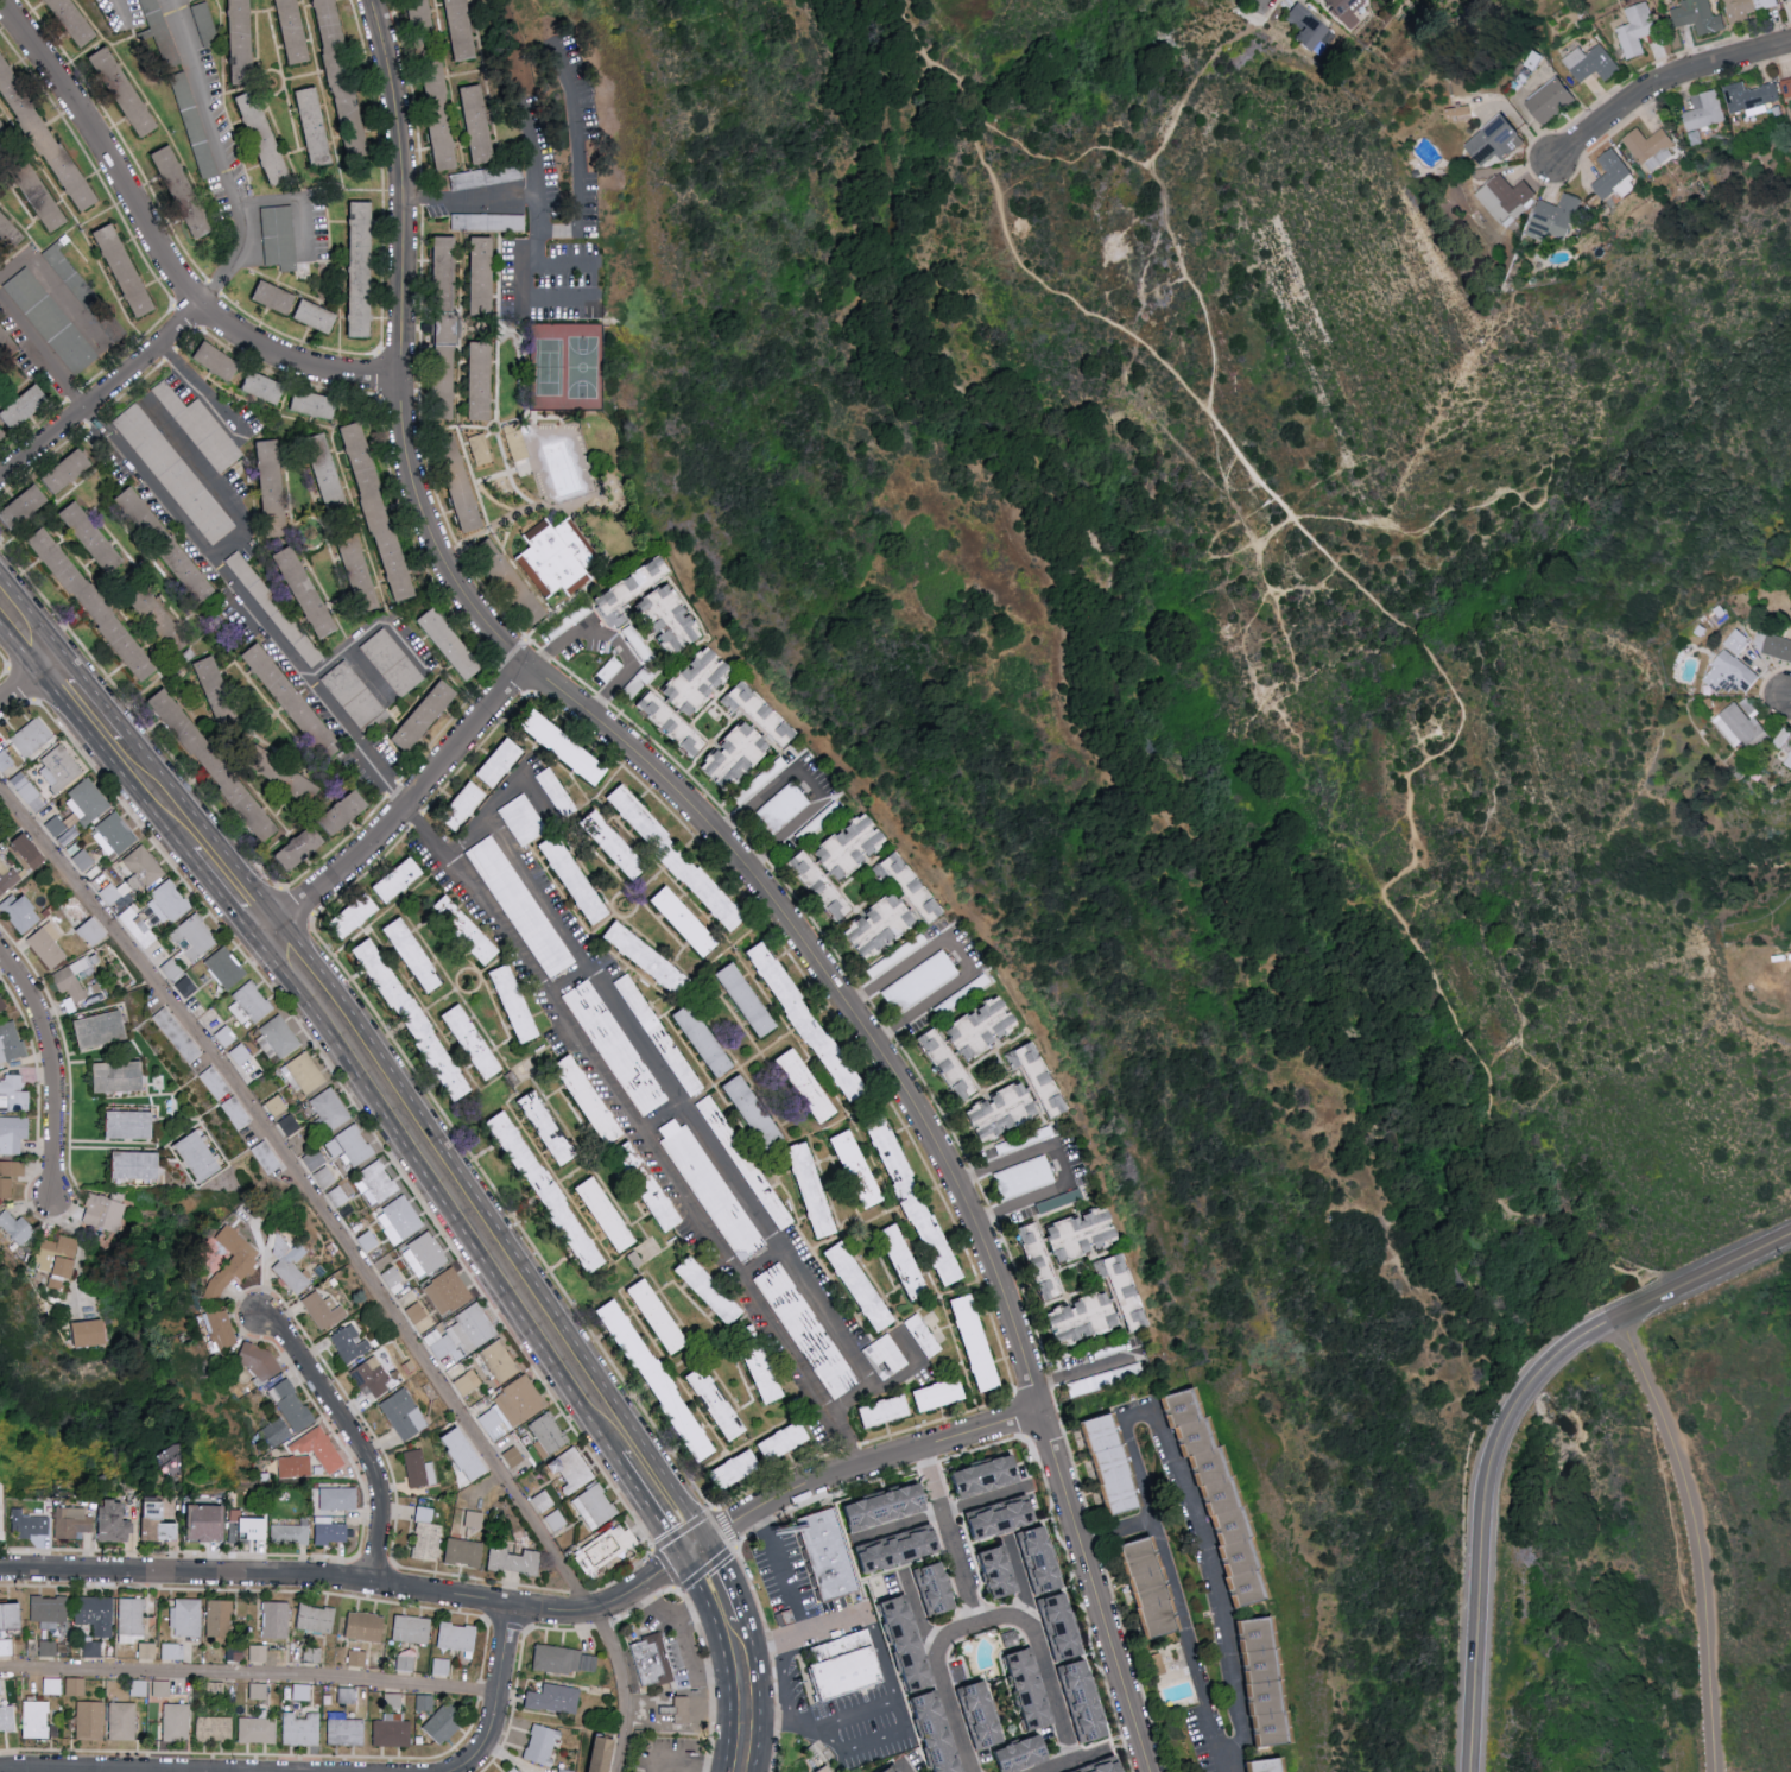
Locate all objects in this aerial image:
building: (1784, 0)
road: (1260, 5)
building: (1334, 5)
building: (1742, 7)
road: (122, 11)
building: (1695, 15)
building: (76, 20)
building: (205, 23)
building: (1303, 27)
building: (464, 29)
building: (1633, 29)
building: (297, 30)
building: (245, 40)
building: (341, 62)
building: (1589, 62)
road: (1194, 82)
road: (1663, 84)
building: (1785, 87)
building: (127, 90)
building: (1747, 96)
building: (1546, 99)
building: (1702, 109)
building: (481, 122)
building: (317, 125)
building: (4, 129)
building: (45, 132)
building: (267, 137)
building: (359, 140)
building: (1489, 140)
building: (447, 141)
building: (1647, 146)
road: (1114, 153)
road: (220, 156)
road: (577, 156)
building: (1612, 175)
building: (487, 176)
road: (534, 186)
building: (184, 191)
building: (1504, 196)
road: (293, 203)
building: (1551, 216)
building: (462, 221)
building: (515, 222)
building: (10, 226)
building: (279, 236)
road: (159, 248)
road: (537, 259)
building: (365, 268)
building: (126, 270)
building: (68, 273)
building: (485, 274)
building: (448, 289)
road: (52, 292)
road: (1052, 293)
building: (278, 296)
road: (543, 299)
building: (319, 315)
building: (50, 321)
road: (43, 352)
building: (221, 359)
park: (548, 367)
park: (581, 369)
building: (483, 380)
building: (267, 386)
road: (203, 392)
road: (103, 393)
building: (315, 403)
building: (25, 407)
building: (201, 429)
building: (2, 433)
building: (515, 441)
building: (480, 449)
building: (70, 469)
building: (172, 474)
building: (273, 474)
building: (331, 479)
road: (209, 483)
building: (466, 493)
building: (26, 506)
building: (139, 507)
building: (381, 511)
building: (278, 523)
road: (1273, 530)
building: (96, 538)
building: (557, 558)
building: (362, 571)
building: (191, 574)
building: (309, 590)
building: (632, 590)
building: (96, 603)
road: (249, 607)
building: (273, 608)
building: (675, 619)
road: (26, 628)
road: (369, 628)
road: (615, 639)
building: (454, 643)
building: (1734, 643)
building: (1776, 646)
building: (392, 662)
building: (1727, 673)
road: (368, 677)
building: (702, 681)
road: (26, 683)
building: (220, 691)
building: (350, 694)
building: (292, 696)
road: (1789, 700)
road: (84, 701)
building: (658, 709)
road: (1456, 709)
building: (765, 711)
building: (426, 716)
building: (1738, 726)
building: (32, 736)
building: (569, 747)
building: (738, 757)
building: (1787, 759)
building: (5, 760)
building: (504, 761)
building: (217, 765)
building: (59, 766)
building: (300, 784)
road: (809, 785)
building: (556, 791)
road: (159, 792)
park: (1291, 796)
building: (87, 800)
road: (499, 802)
building: (466, 805)
building: (789, 805)
road: (407, 808)
building: (348, 811)
building: (521, 819)
building: (114, 834)
building: (857, 844)
building: (304, 847)
building: (621, 848)
building: (32, 850)
building: (679, 857)
building: (86, 862)
building: (141, 867)
road: (741, 869)
building: (906, 873)
building: (577, 879)
building: (8, 880)
building: (400, 880)
road: (236, 886)
building: (172, 900)
building: (520, 906)
building: (936, 909)
building: (20, 912)
building: (360, 915)
building: (134, 920)
building: (689, 920)
building: (884, 926)
building: (93, 931)
building: (195, 936)
building: (480, 938)
building: (48, 944)
building: (418, 955)
building: (651, 957)
road: (957, 960)
building: (227, 967)
building: (74, 979)
road: (565, 980)
building: (919, 981)
building: (185, 986)
building: (751, 999)
building: (518, 1002)
building: (1, 1004)
building: (251, 1004)
building: (411, 1013)
building: (811, 1021)
building: (982, 1026)
building: (103, 1029)
building: (177, 1034)
building: (279, 1037)
building: (708, 1040)
building: (475, 1042)
building: (11, 1043)
building: (614, 1048)
building: (246, 1062)
building: (949, 1065)
road: (53, 1068)
building: (681, 1069)
building: (306, 1074)
building: (121, 1076)
building: (215, 1083)
building: (810, 1086)
building: (14, 1093)
building: (1018, 1097)
building: (593, 1099)
building: (277, 1105)
building: (331, 1108)
building: (236, 1112)
building: (757, 1112)
building: (132, 1124)
building: (290, 1124)
road: (662, 1124)
building: (551, 1127)
road: (694, 1129)
building: (13, 1134)
road: (641, 1135)
building: (352, 1145)
building: (739, 1152)
building: (202, 1156)
building: (266, 1157)
building: (139, 1165)
road: (1057, 1165)
building: (319, 1167)
building: (861, 1169)
building: (11, 1177)
building: (1023, 1177)
building: (380, 1181)
road: (451, 1185)
building: (710, 1190)
building: (816, 1190)
building: (918, 1200)
building: (665, 1205)
building: (107, 1210)
building: (610, 1214)
road: (1534, 1214)
building: (401, 1220)
building: (17, 1227)
building: (1088, 1233)
building: (1037, 1245)
building: (278, 1246)
road: (83, 1249)
building: (425, 1255)
road: (356, 1259)
building: (59, 1260)
building: (232, 1261)
building: (909, 1262)
road: (761, 1268)
building: (291, 1274)
building: (863, 1286)
building: (713, 1290)
building: (448, 1291)
building: (1051, 1291)
building: (1105, 1304)
building: (324, 1310)
building: (417, 1311)
building: (662, 1316)
building: (220, 1328)
building: (805, 1330)
building: (93, 1333)
building: (462, 1335)
building: (350, 1343)
building: (980, 1343)
building: (885, 1356)
building: (259, 1361)
building: (500, 1361)
road: (912, 1369)
building: (455, 1371)
road: (1078, 1373)
building: (768, 1377)
building: (374, 1378)
building: (660, 1380)
building: (468, 1382)
building: (943, 1394)
building: (721, 1403)
building: (292, 1405)
building: (512, 1407)
building: (886, 1412)
building: (404, 1415)
road: (1507, 1429)
building: (277, 1431)
building: (550, 1435)
road: (357, 1439)
building: (787, 1441)
building: (321, 1449)
building: (468, 1454)
building: (167, 1461)
building: (295, 1466)
building: (741, 1468)
building: (1106, 1468)
building: (419, 1469)
building: (575, 1470)
building: (983, 1479)
building: (338, 1499)
road: (660, 1500)
building: (1213, 1502)
building: (596, 1507)
building: (882, 1508)
building: (5, 1511)
road: (944, 1514)
building: (555, 1520)
building: (475, 1521)
building: (998, 1521)
building: (72, 1523)
building: (118, 1523)
building: (162, 1523)
building: (210, 1523)
building: (30, 1524)
building: (257, 1527)
building: (330, 1531)
building: (291, 1533)
road: (1118, 1534)
building: (425, 1536)
road: (951, 1538)
building: (612, 1546)
building: (463, 1552)
traffic signals: (696, 1552)
building: (894, 1552)
building: (830, 1556)
building: (514, 1561)
building: (1036, 1564)
road: (1210, 1567)
road: (781, 1572)
building: (994, 1574)
road: (1019, 1581)
road: (715, 1587)
building: (930, 1590)
building: (1141, 1590)
road: (1172, 1595)
building: (50, 1610)
building: (97, 1614)
road: (543, 1614)
road: (916, 1615)
building: (12, 1616)
building: (186, 1618)
building: (132, 1619)
building: (317, 1619)
building: (219, 1620)
building: (276, 1620)
building: (363, 1626)
building: (410, 1629)
building: (1056, 1631)
road: (803, 1633)
building: (458, 1637)
building: (1005, 1638)
building: (903, 1645)
building: (6, 1647)
building: (48, 1648)
building: (91, 1650)
building: (147, 1650)
building: (173, 1651)
building: (258, 1652)
road: (684, 1652)
building: (356, 1658)
road: (881, 1659)
building: (564, 1660)
building: (405, 1663)
building: (653, 1663)
building: (1154, 1664)
road: (1044, 1665)
building: (441, 1666)
building: (850, 1675)
road: (251, 1676)
road: (791, 1681)
building: (1257, 1683)
building: (52, 1685)
building: (76, 1686)
road: (943, 1686)
building: (1, 1688)
building: (152, 1688)
building: (259, 1690)
building: (1026, 1690)
building: (302, 1694)
road: (500, 1697)
road: (746, 1697)
building: (556, 1698)
building: (425, 1703)
building: (1080, 1703)
building: (681, 1713)
building: (976, 1715)
building: (7, 1719)
building: (37, 1719)
building: (90, 1720)
building: (124, 1721)
building: (176, 1721)
road: (786, 1721)
building: (445, 1722)
road: (903, 1726)
building: (214, 1728)
building: (300, 1729)
building: (344, 1729)
building: (257, 1730)
building: (392, 1732)
building: (932, 1733)
building: (542, 1745)
building: (606, 1754)
building: (1012, 1754)
road: (1056, 1765)
road: (694, 1767)
building: (1099, 1767)
building: (1257, 1767)
building: (514, 1770)
building: (564, 1770)
building: (888, 1770)
road: (904, 1770)
building: (828, 1771)

